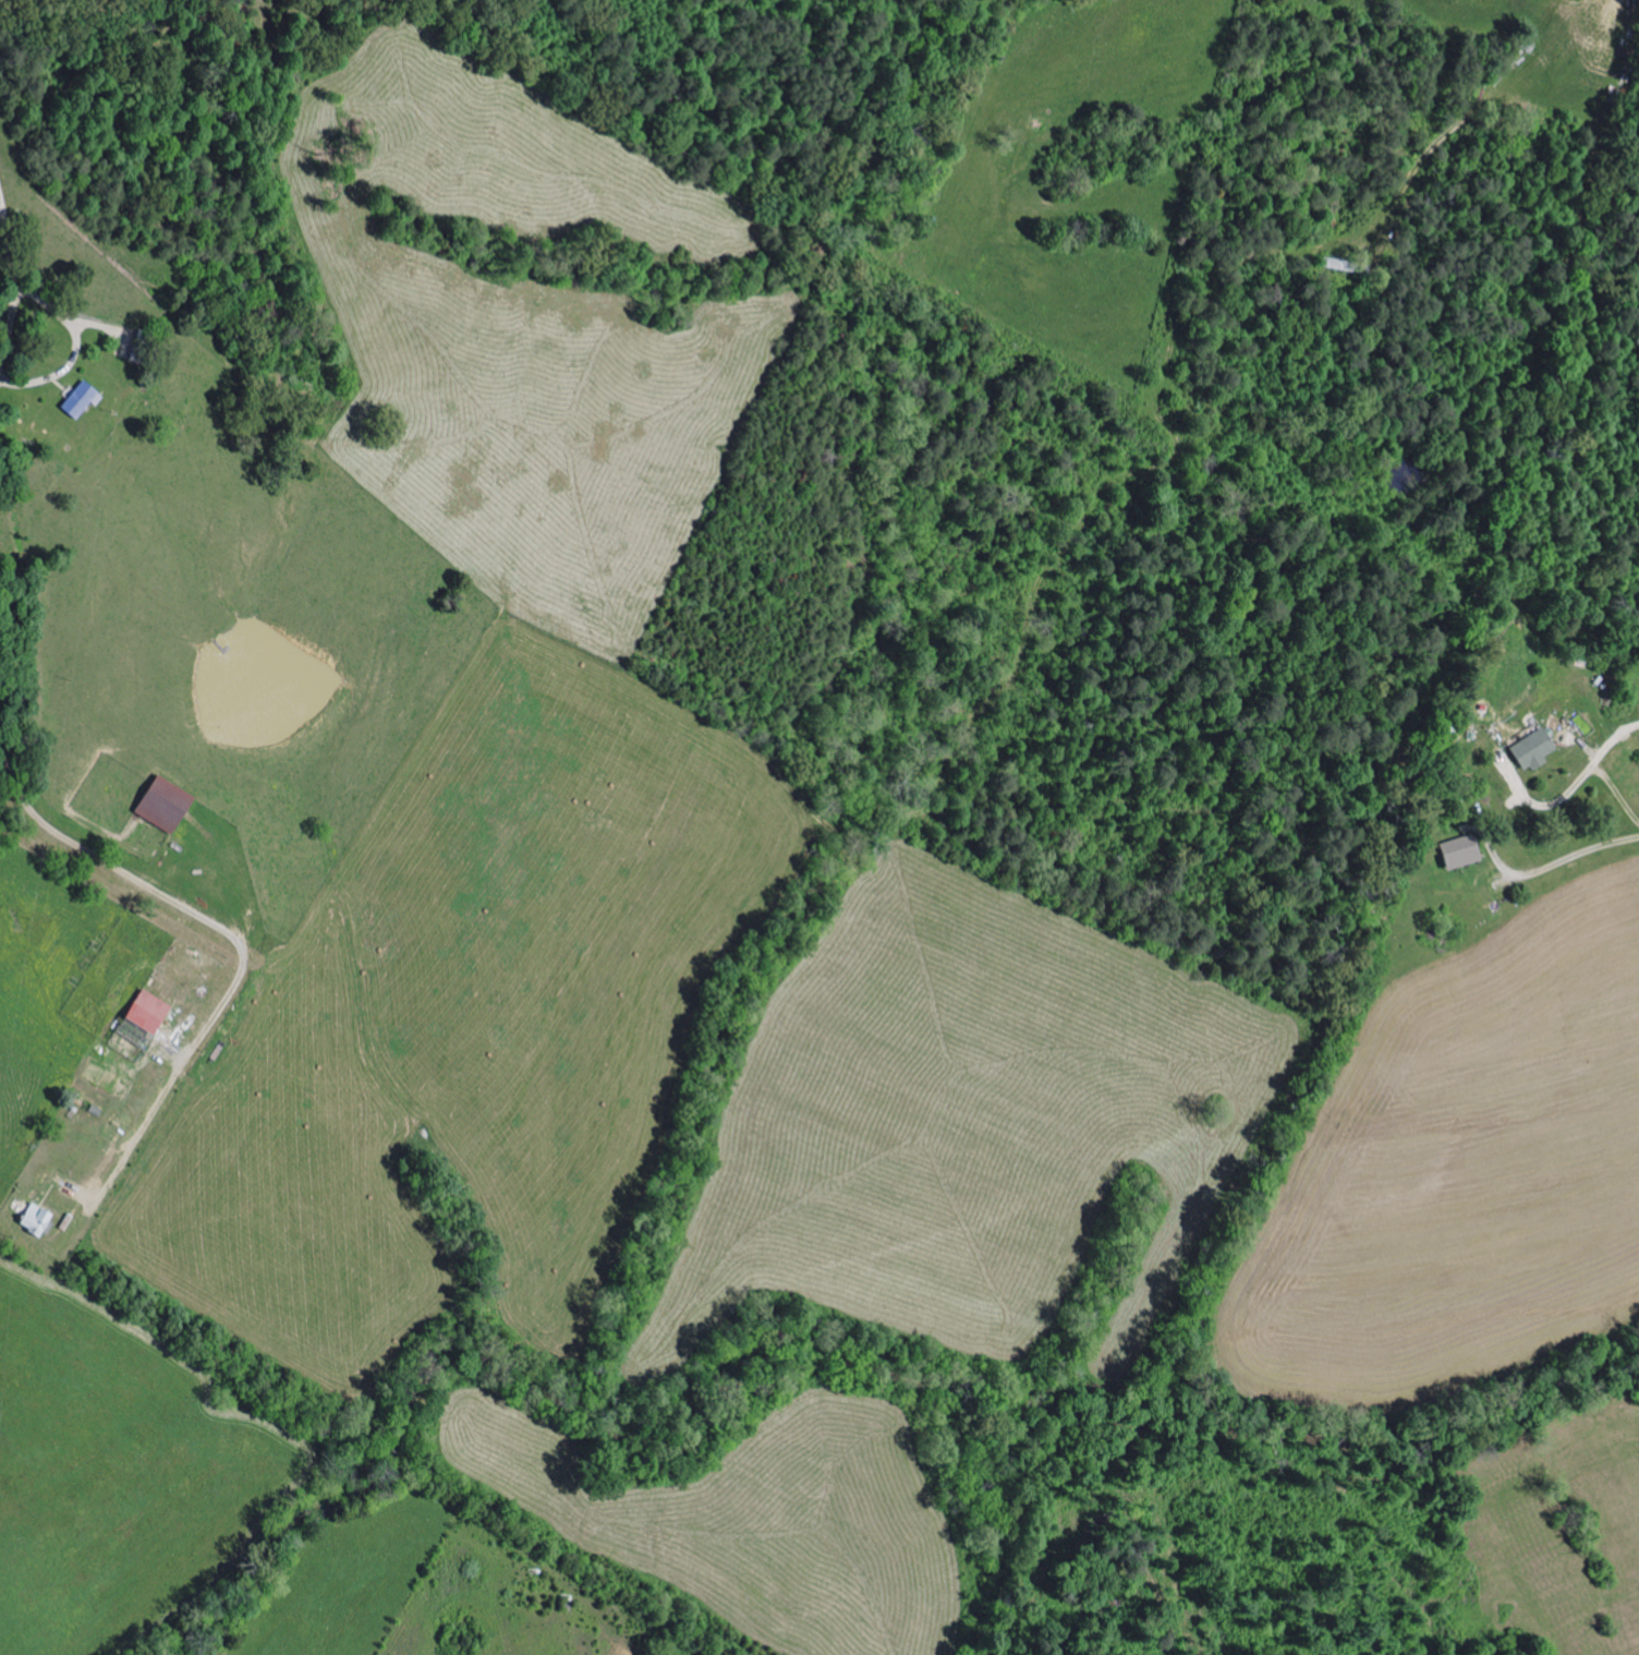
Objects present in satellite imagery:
road: (3, 245)
road: (9, 314)
road: (74, 343)
building: (145, 347)
building: (83, 398)
building: (1528, 749)
road: (1604, 771)
building: (169, 804)
building: (1454, 853)
road: (1553, 869)
road: (231, 937)
building: (151, 1011)

